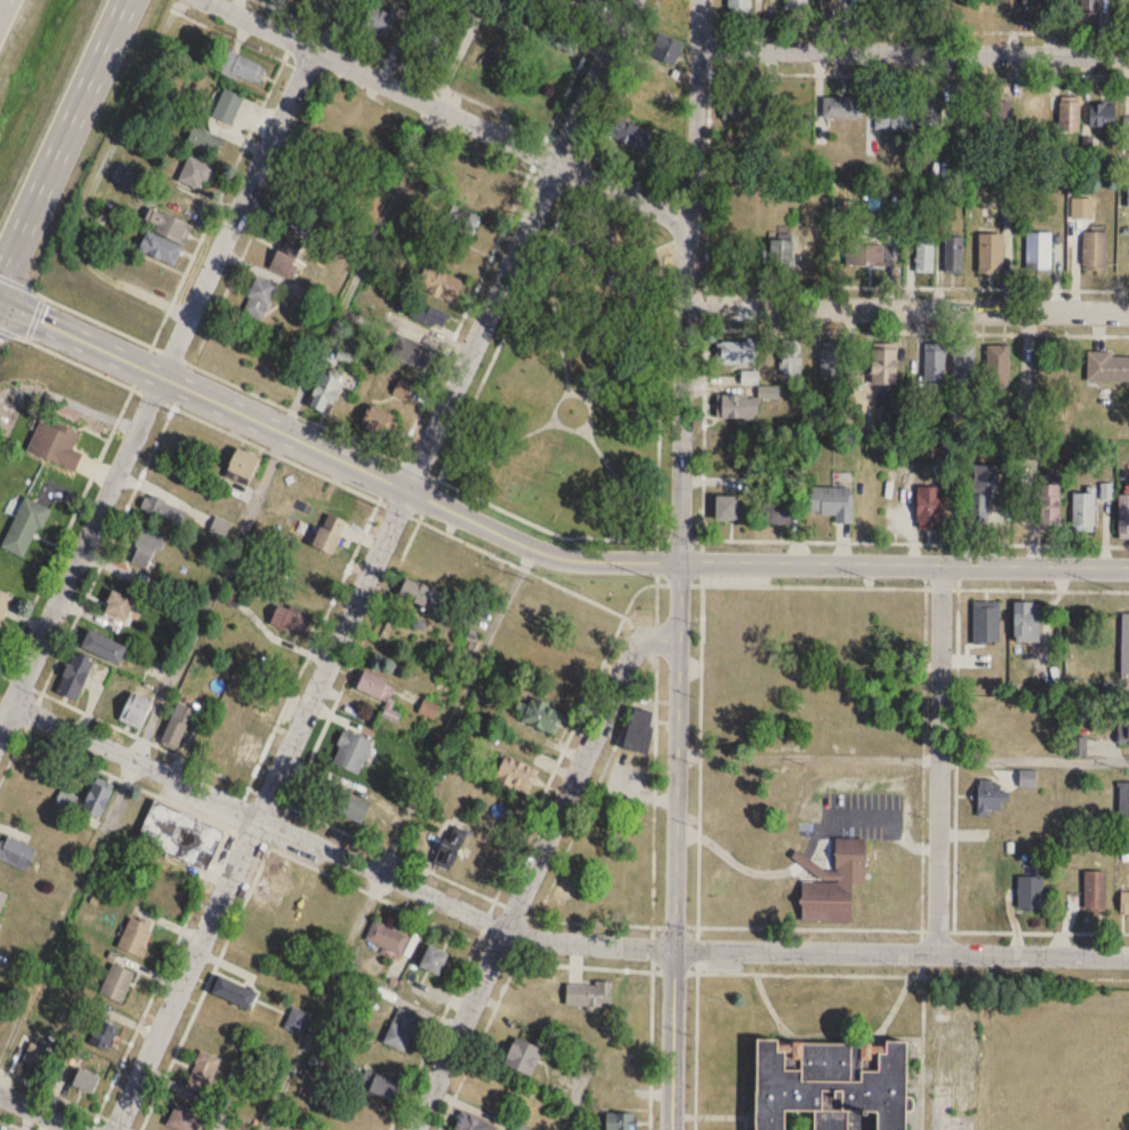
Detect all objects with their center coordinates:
road: (0, 1)
building: (468, 1)
building: (587, 2)
building: (797, 4)
building: (738, 6)
building: (830, 6)
building: (1088, 9)
building: (1032, 12)
building: (377, 20)
road: (895, 28)
building: (557, 37)
building: (432, 48)
building: (665, 49)
road: (914, 51)
road: (577, 66)
building: (242, 69)
road: (790, 72)
road: (622, 75)
road: (444, 85)
building: (227, 106)
building: (744, 107)
building: (842, 107)
road: (446, 110)
building: (930, 111)
building: (798, 113)
building: (1069, 115)
building: (1101, 115)
building: (995, 116)
building: (893, 118)
building: (628, 134)
road: (63, 137)
building: (205, 141)
building: (742, 144)
road: (487, 154)
building: (195, 174)
road: (636, 175)
building: (460, 221)
road: (607, 225)
building: (163, 237)
road: (664, 246)
building: (1038, 251)
building: (1095, 251)
building: (779, 252)
building: (870, 253)
building: (924, 253)
building: (990, 253)
building: (953, 255)
building: (287, 256)
road: (611, 265)
road: (684, 279)
building: (441, 284)
road: (916, 286)
road: (472, 296)
building: (259, 298)
road: (905, 308)
building: (428, 315)
road: (556, 320)
road: (159, 324)
road: (916, 330)
road: (624, 342)
building: (411, 352)
building: (735, 353)
building: (790, 359)
building: (830, 364)
building: (997, 365)
road: (165, 366)
building: (934, 366)
building: (963, 366)
building: (883, 367)
building: (1108, 367)
building: (749, 377)
park: (578, 386)
building: (403, 391)
building: (323, 393)
building: (733, 406)
building: (376, 421)
road: (548, 423)
road: (279, 429)
road: (703, 433)
building: (54, 445)
road: (335, 454)
building: (242, 464)
building: (984, 478)
road: (620, 483)
building: (1048, 500)
building: (832, 502)
building: (929, 506)
building: (726, 508)
building: (163, 509)
building: (776, 511)
building: (1084, 511)
building: (1123, 515)
building: (24, 527)
building: (328, 533)
road: (586, 533)
building: (148, 546)
road: (702, 561)
road: (904, 563)
road: (372, 564)
road: (679, 583)
building: (421, 594)
building: (2, 603)
building: (117, 605)
building: (734, 614)
building: (291, 620)
building: (1025, 621)
building: (986, 622)
building: (101, 646)
building: (569, 674)
building: (73, 675)
building: (375, 686)
building: (111, 695)
building: (136, 703)
building: (428, 708)
road: (457, 709)
building: (392, 714)
building: (542, 715)
building: (180, 724)
building: (638, 729)
building: (1123, 732)
road: (568, 734)
building: (230, 751)
building: (351, 751)
road: (938, 757)
road: (1034, 757)
building: (515, 774)
building: (991, 797)
building: (65, 800)
building: (96, 800)
building: (1123, 800)
building: (346, 805)
building: (180, 834)
road: (679, 844)
building: (448, 848)
building: (15, 852)
road: (532, 865)
building: (833, 881)
building: (1095, 891)
building: (1029, 892)
building: (2, 899)
building: (1125, 903)
road: (527, 914)
building: (135, 935)
building: (387, 937)
road: (546, 940)
road: (652, 947)
building: (432, 960)
road: (570, 964)
building: (116, 983)
building: (232, 993)
building: (588, 995)
road: (324, 1003)
building: (296, 1020)
building: (401, 1028)
building: (104, 1036)
building: (521, 1057)
building: (39, 1058)
building: (203, 1072)
building: (84, 1081)
building: (379, 1085)
building: (828, 1086)
road: (66, 1099)
road: (39, 1111)
building: (538, 1113)
building: (184, 1119)
building: (620, 1121)
building: (470, 1123)

